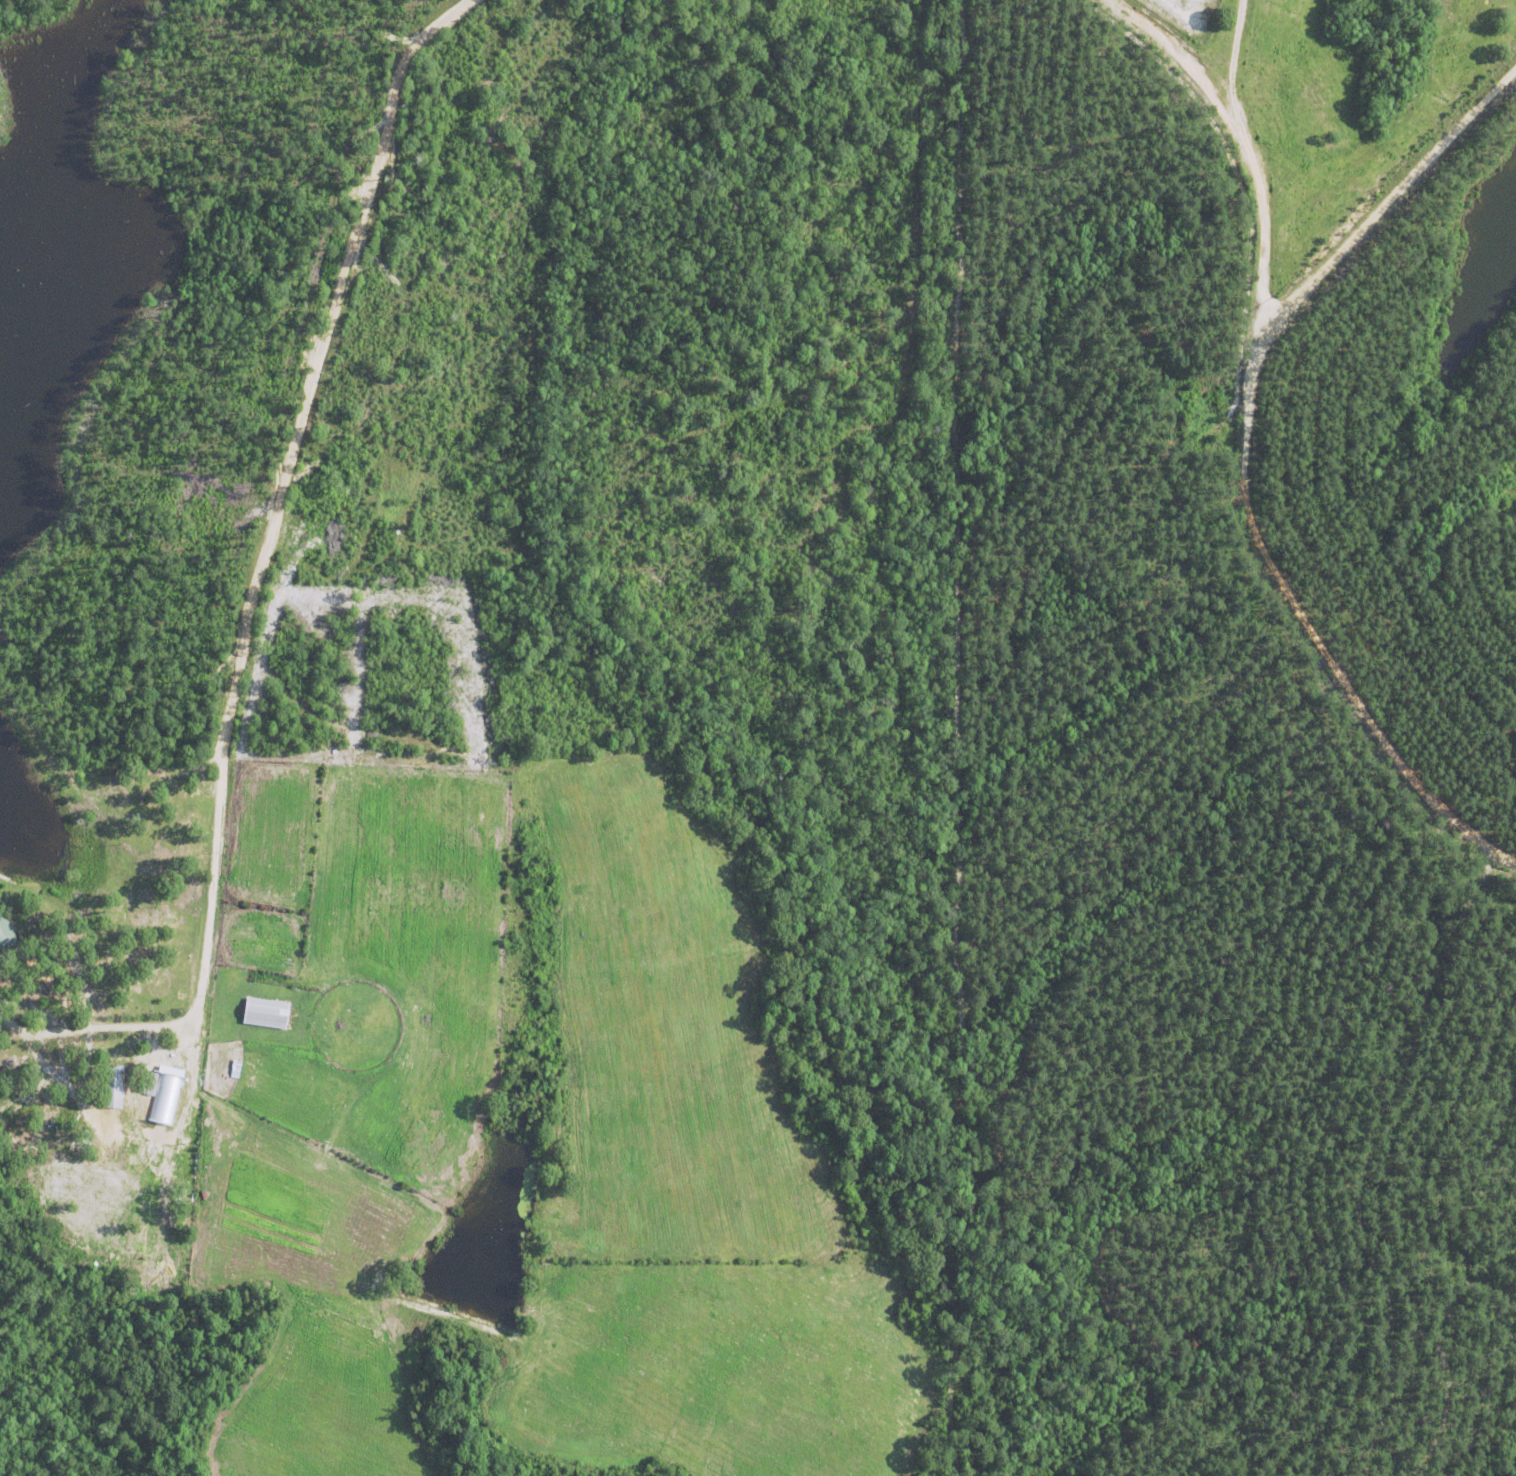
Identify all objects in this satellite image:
road: (1394, 194)
road: (264, 562)
building: (5, 932)
building: (265, 1012)
building: (153, 1084)
building: (112, 1089)

